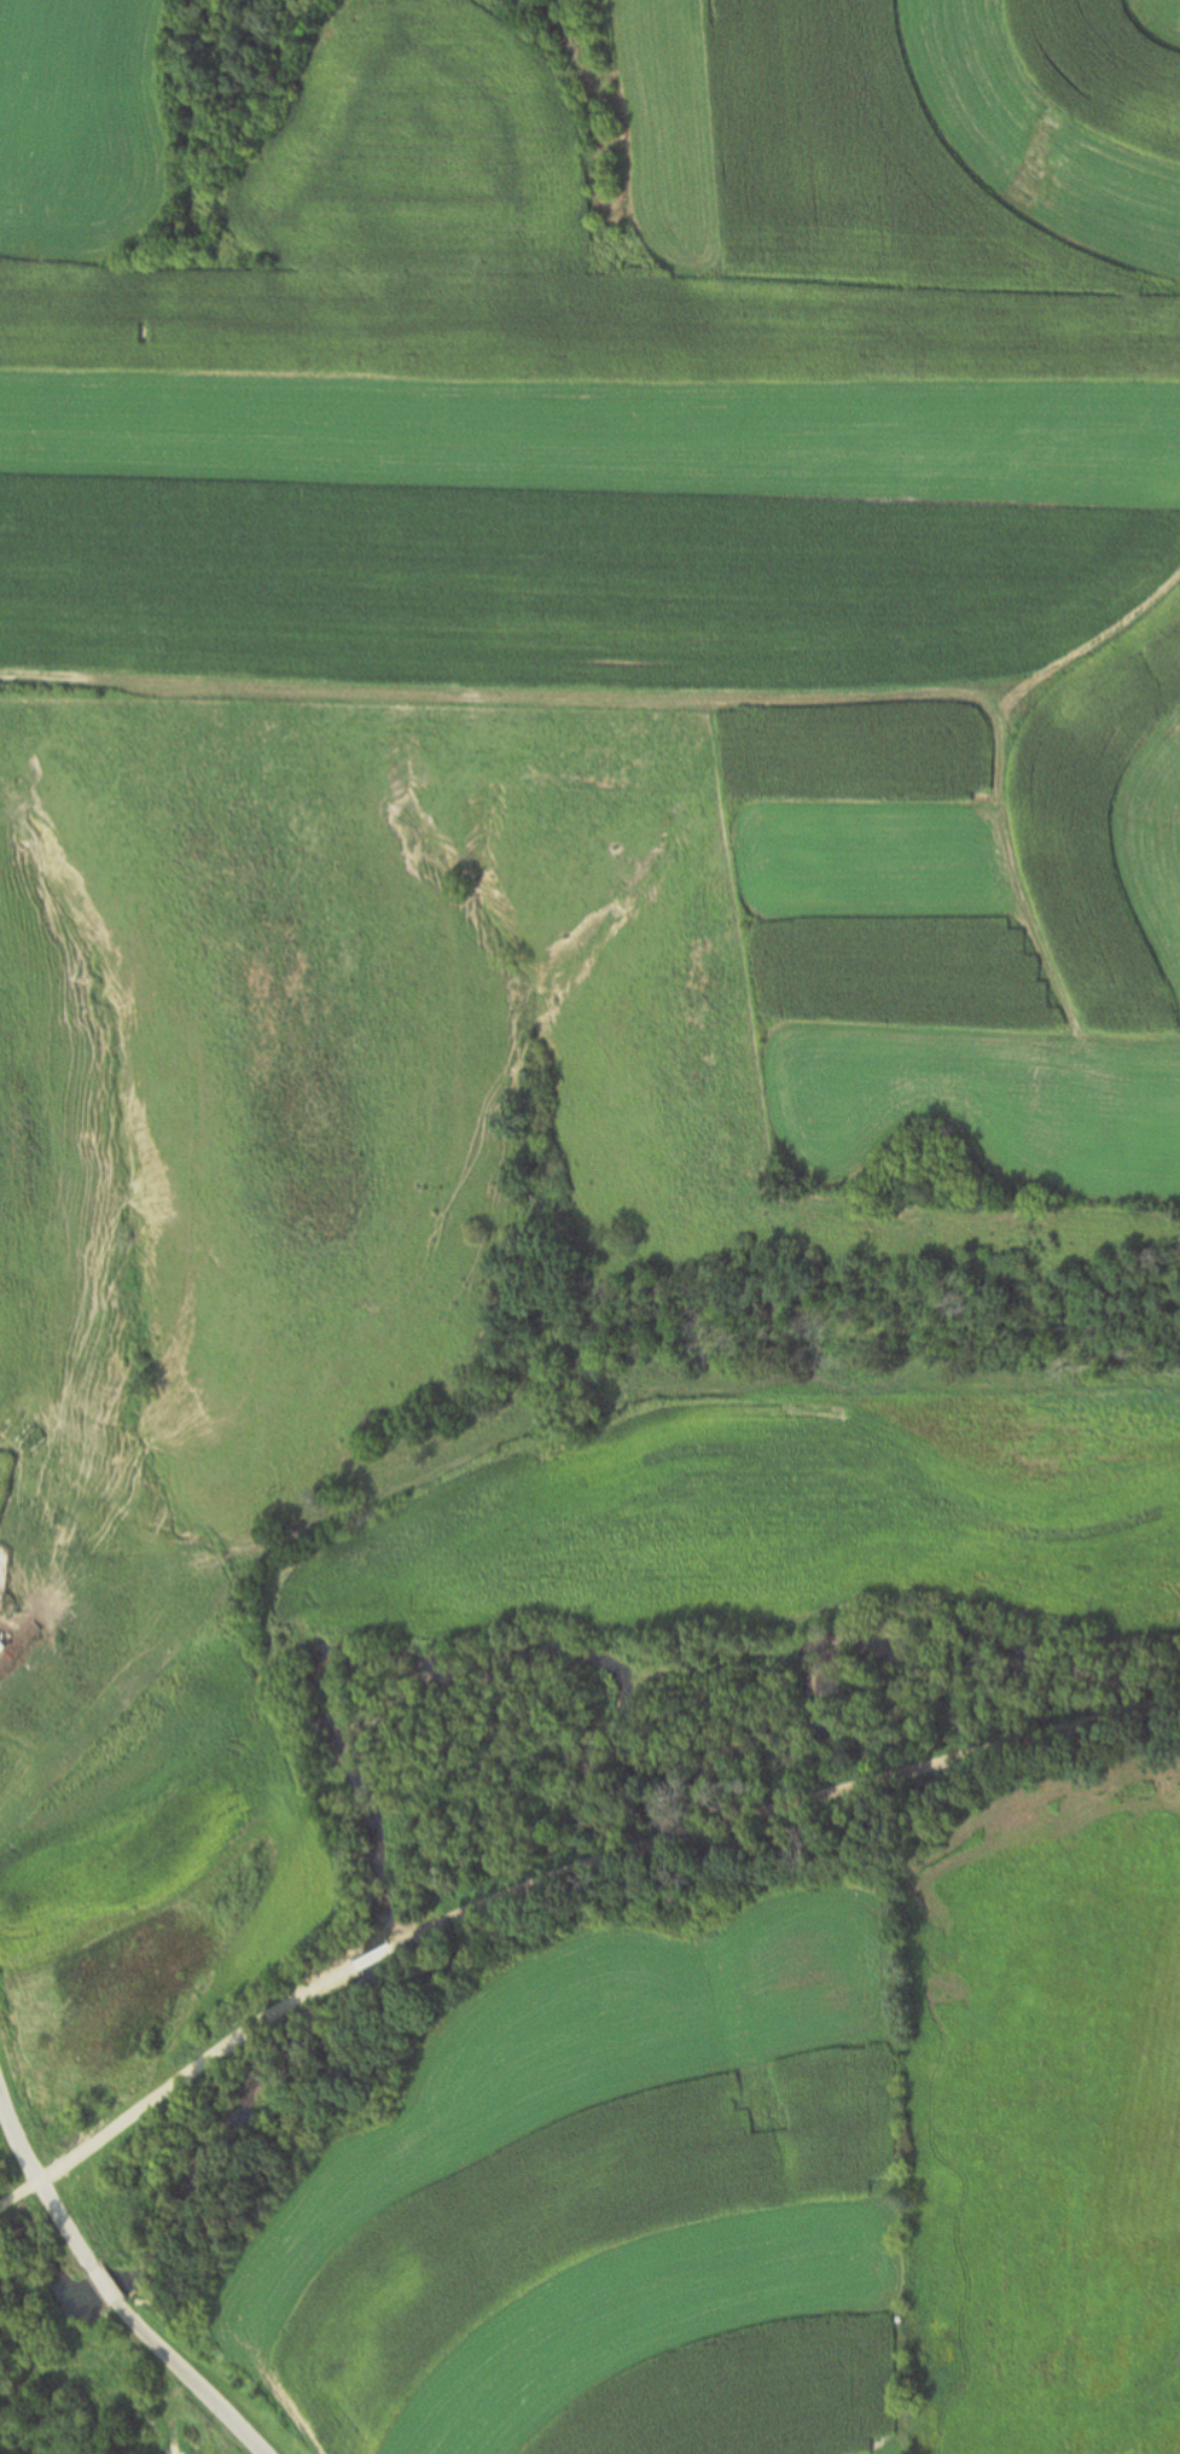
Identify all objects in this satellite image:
river: (401, 1663)
road: (781, 1809)
road: (374, 1956)
road: (175, 2086)
road: (37, 2179)
road: (105, 2284)
road: (191, 2378)

